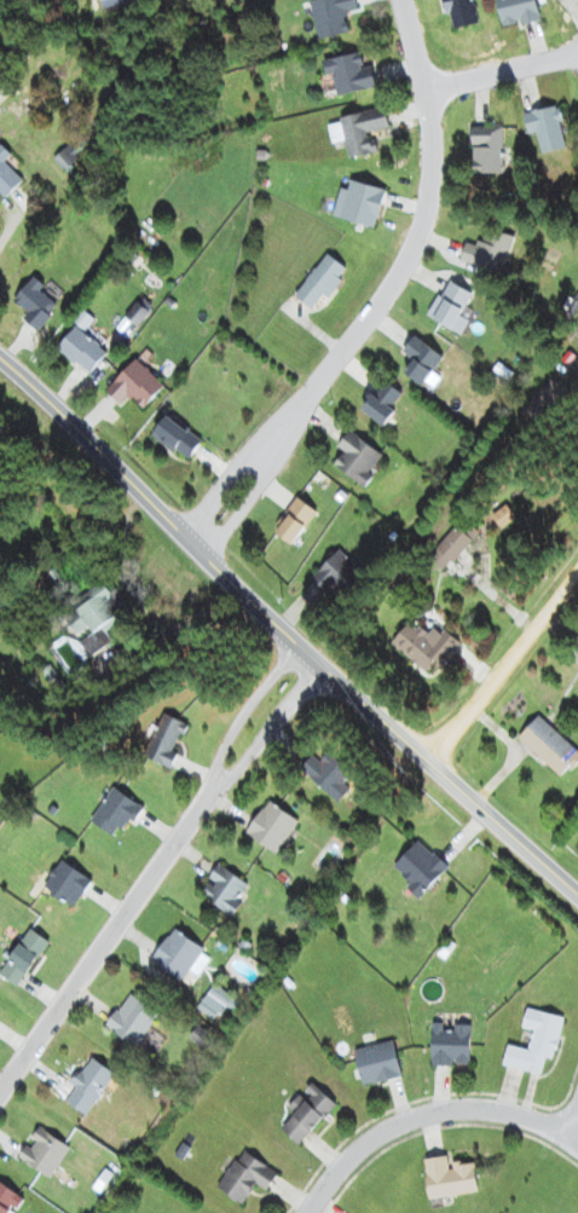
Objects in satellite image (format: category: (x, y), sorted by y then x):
building: (522, 11)
building: (466, 12)
building: (331, 16)
road: (501, 70)
building: (349, 74)
building: (545, 128)
building: (358, 132)
building: (486, 151)
building: (65, 158)
building: (6, 175)
building: (358, 203)
road: (412, 243)
building: (486, 252)
building: (319, 282)
building: (34, 305)
building: (451, 306)
building: (81, 351)
building: (420, 360)
building: (133, 386)
building: (382, 404)
building: (175, 439)
building: (357, 458)
road: (242, 504)
building: (294, 522)
building: (452, 545)
building: (341, 573)
building: (92, 620)
road: (283, 634)
building: (422, 646)
building: (75, 659)
road: (502, 665)
building: (164, 740)
building: (549, 747)
building: (328, 775)
building: (114, 814)
building: (271, 827)
building: (418, 870)
road: (154, 872)
building: (65, 885)
building: (222, 890)
building: (177, 954)
building: (22, 958)
building: (207, 1000)
building: (131, 1020)
building: (534, 1041)
building: (450, 1045)
building: (377, 1062)
building: (87, 1086)
building: (306, 1113)
road: (427, 1114)
road: (568, 1116)
building: (42, 1151)
building: (244, 1177)
building: (449, 1178)
building: (7, 1200)

